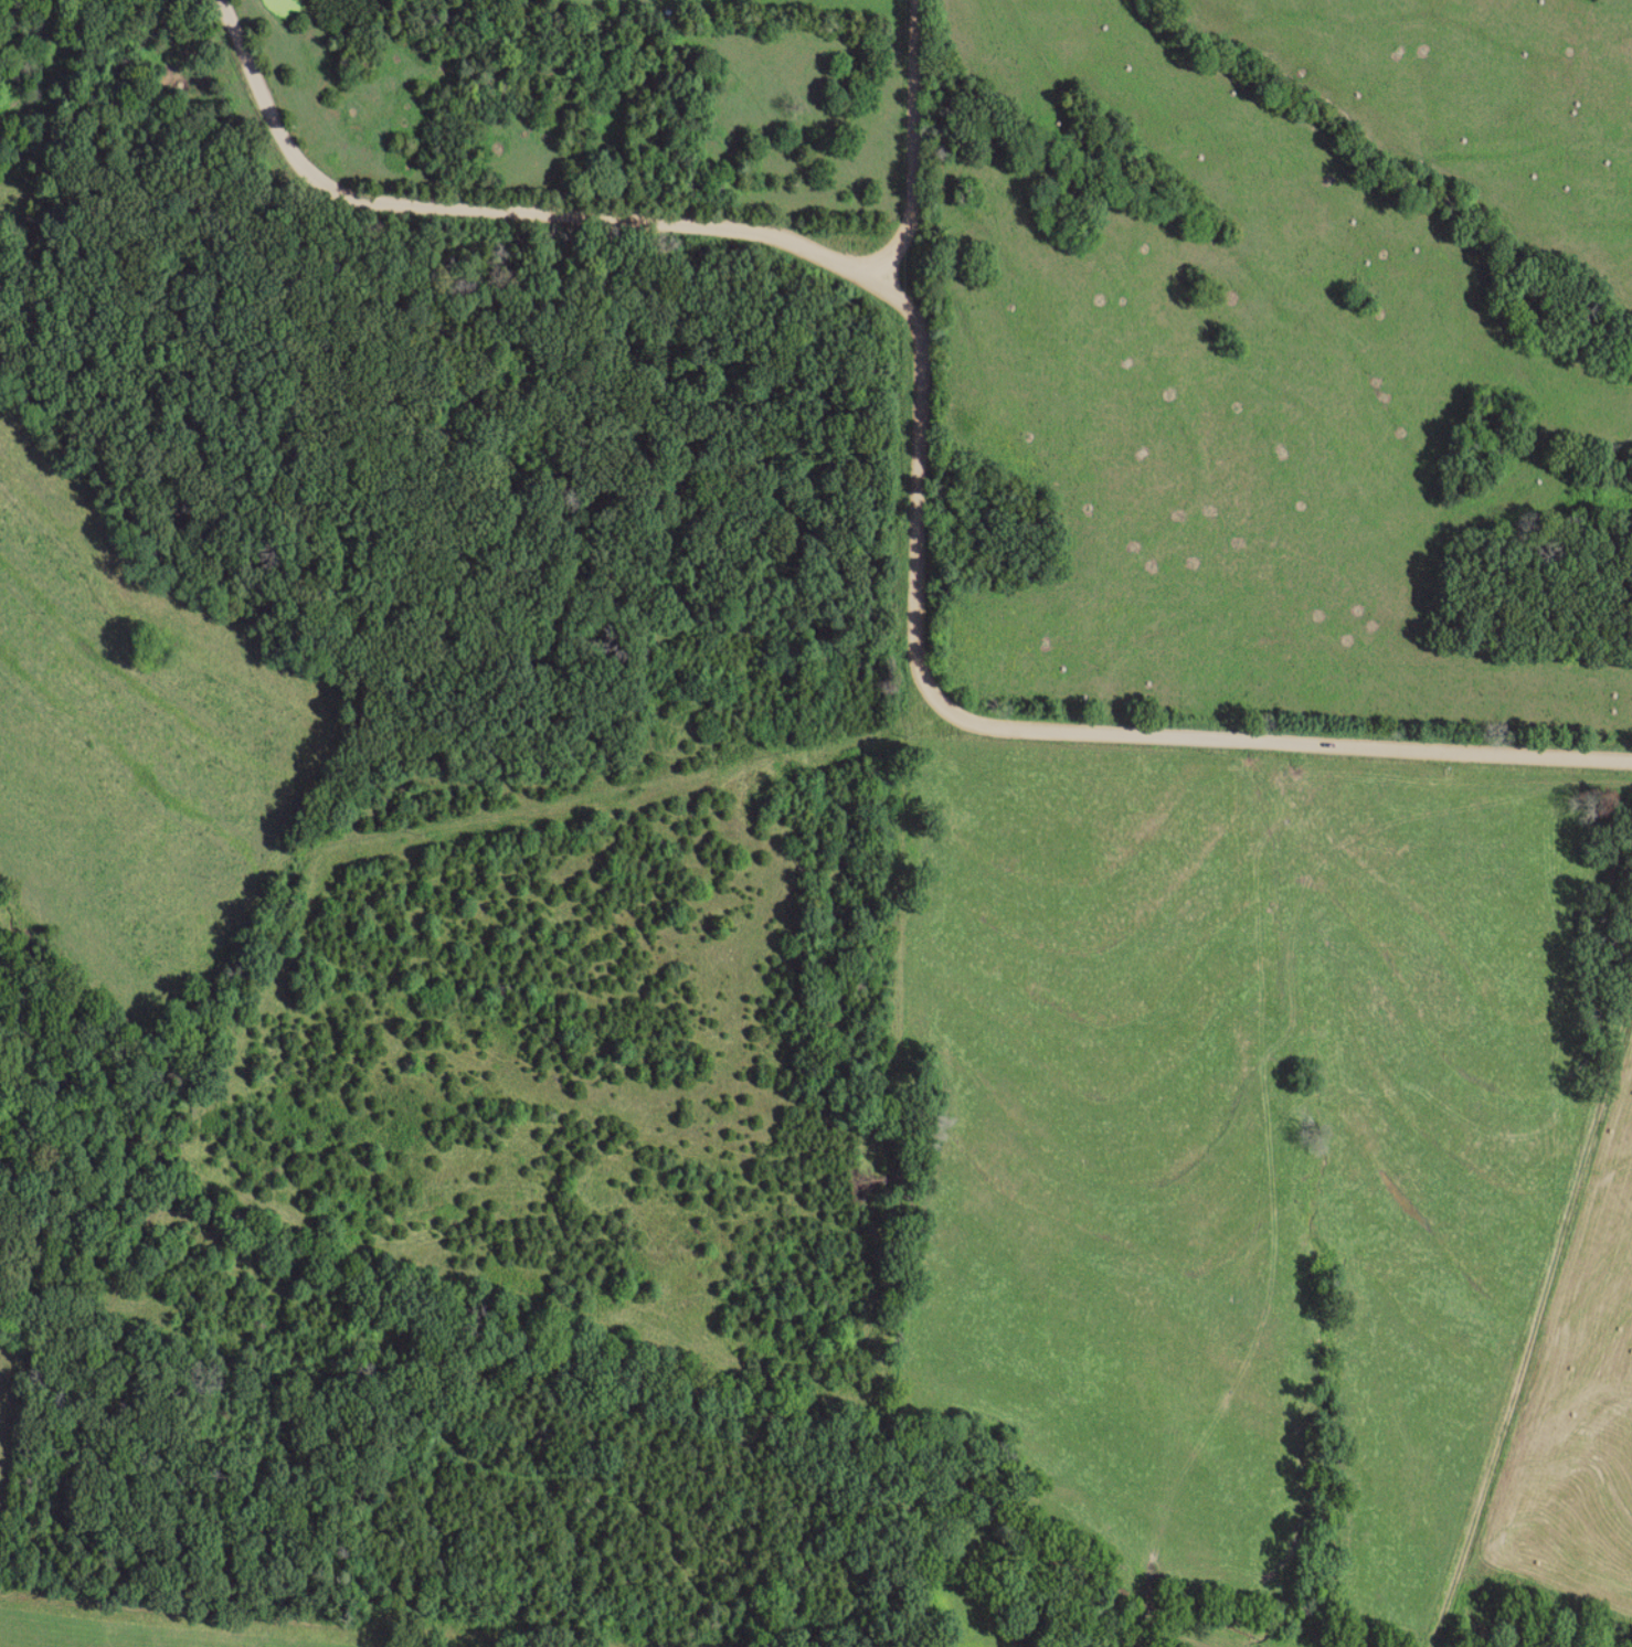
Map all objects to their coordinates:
road: (915, 145)
road: (497, 212)
road: (1058, 732)

